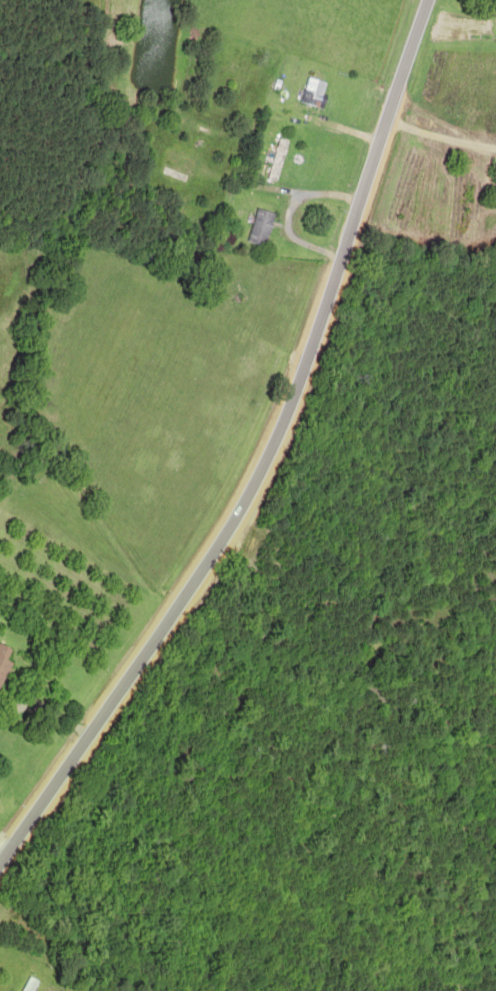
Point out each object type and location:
building: (489, 2)
building: (309, 92)
building: (272, 158)
building: (255, 226)
road: (269, 442)
building: (1, 650)
building: (1, 664)

